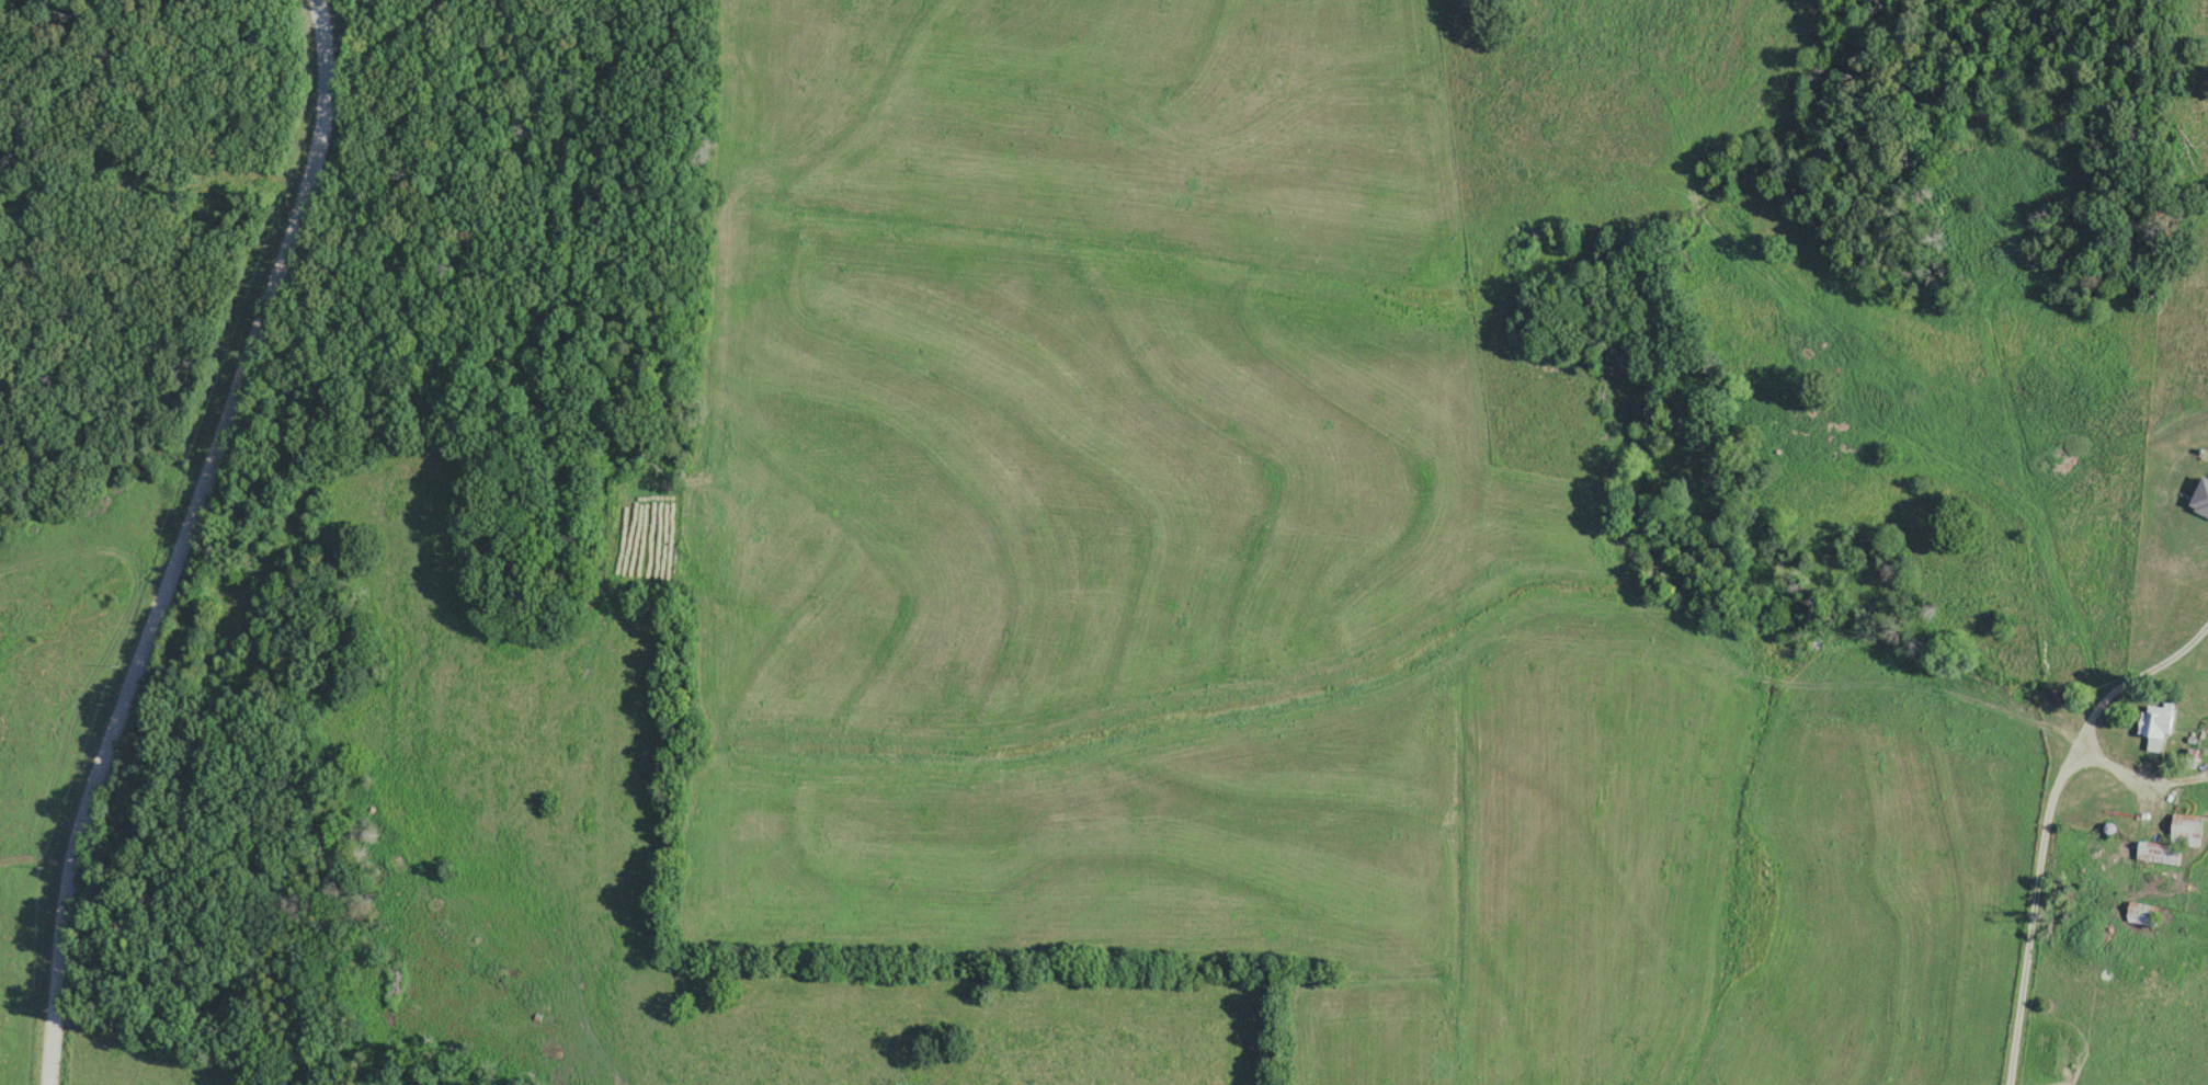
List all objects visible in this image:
building: (2203, 499)
road: (190, 539)
crop: (1176, 548)
building: (2158, 727)
road: (2047, 822)
building: (2189, 831)
building: (2161, 856)
building: (2144, 915)

